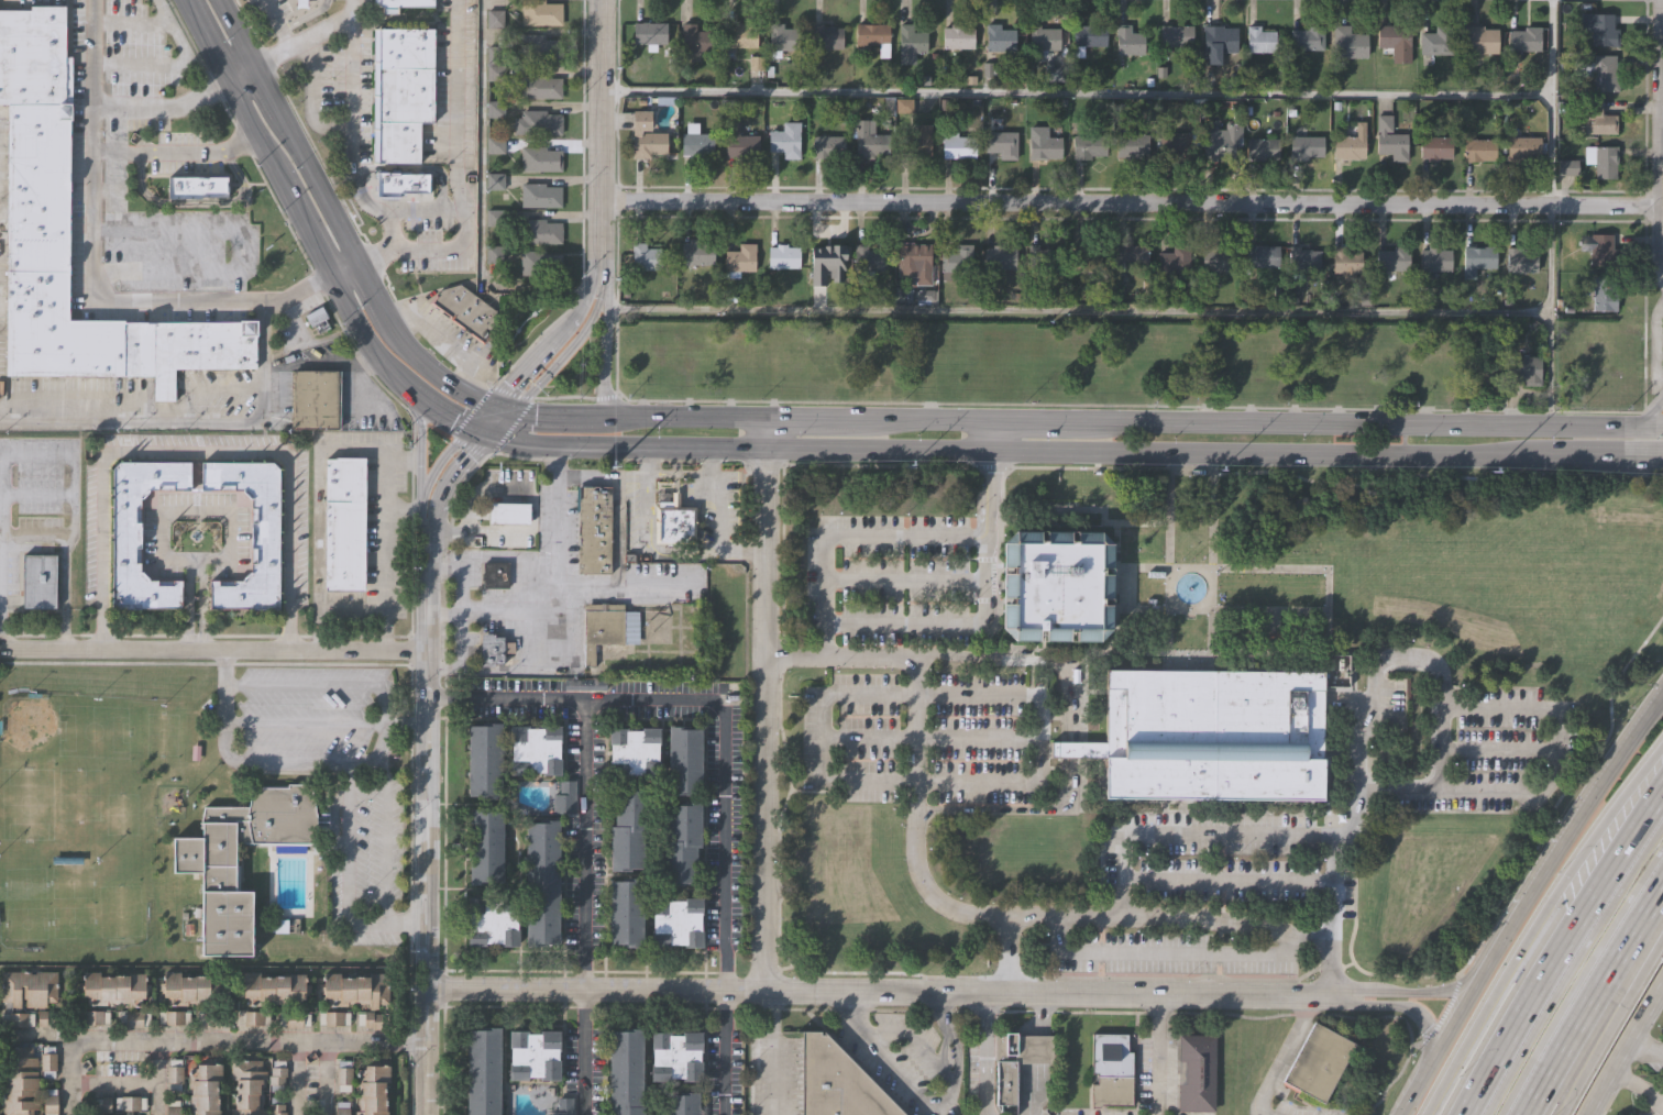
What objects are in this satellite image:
building: (400, 3)
road: (353, 4)
building: (540, 12)
building: (497, 20)
road: (276, 22)
building: (1600, 26)
building: (648, 33)
building: (1176, 34)
road: (305, 35)
building: (740, 35)
building: (873, 35)
building: (1394, 35)
building: (826, 36)
building: (957, 36)
building: (1088, 36)
building: (1310, 36)
building: (999, 37)
building: (781, 38)
building: (1259, 38)
building: (1524, 38)
building: (911, 40)
building: (1043, 40)
building: (1480, 40)
building: (695, 41)
building: (1128, 41)
building: (1218, 41)
building: (1352, 41)
building: (1438, 41)
building: (538, 46)
road: (241, 70)
building: (1606, 73)
building: (539, 85)
building: (400, 90)
road: (1076, 93)
road: (310, 100)
road: (162, 107)
building: (495, 110)
building: (1597, 117)
building: (536, 121)
road: (460, 126)
road: (601, 129)
building: (645, 134)
road: (354, 137)
building: (784, 137)
building: (737, 139)
building: (868, 140)
building: (1390, 140)
building: (916, 141)
building: (1219, 142)
building: (1002, 143)
building: (696, 144)
building: (1132, 144)
building: (1175, 144)
road: (1655, 144)
building: (827, 145)
building: (958, 145)
building: (1088, 145)
building: (1044, 147)
building: (1304, 147)
building: (1347, 147)
building: (1434, 147)
building: (1262, 148)
building: (1522, 148)
building: (1478, 150)
road: (175, 151)
building: (540, 157)
building: (1601, 159)
building: (1566, 168)
building: (401, 183)
building: (197, 186)
building: (540, 194)
road: (481, 198)
road: (1127, 202)
road: (331, 207)
road: (418, 210)
road: (1550, 212)
building: (37, 219)
building: (540, 230)
road: (306, 231)
road: (91, 240)
building: (1600, 249)
building: (694, 251)
road: (410, 252)
building: (781, 253)
building: (643, 255)
building: (1132, 255)
building: (1263, 255)
building: (738, 256)
building: (824, 256)
building: (1002, 256)
building: (1045, 257)
building: (1176, 257)
building: (1306, 257)
building: (869, 258)
building: (1218, 258)
building: (1392, 258)
building: (1433, 258)
building: (1477, 258)
building: (957, 260)
building: (1086, 260)
building: (915, 261)
building: (1345, 261)
building: (1521, 261)
building: (539, 262)
road: (345, 267)
road: (302, 288)
road: (1659, 288)
road: (590, 290)
building: (1604, 294)
building: (465, 310)
road: (1078, 311)
building: (318, 318)
road: (1654, 331)
road: (448, 341)
building: (1597, 341)
road: (575, 342)
road: (605, 349)
road: (531, 361)
building: (1526, 367)
building: (1599, 380)
traffic signals: (509, 386)
road: (480, 397)
building: (315, 399)
road: (502, 407)
road: (1648, 412)
road: (191, 415)
road: (689, 415)
traffic signals: (535, 416)
road: (811, 416)
road: (481, 417)
road: (563, 417)
road: (924, 418)
traffic signals: (453, 420)
road: (1045, 420)
road: (499, 423)
road: (1324, 423)
road: (1606, 428)
road: (762, 432)
road: (476, 434)
road: (419, 435)
road: (989, 435)
road: (521, 446)
road: (659, 450)
road: (197, 451)
road: (874, 451)
traffic signals: (469, 456)
road: (1270, 456)
road: (1608, 457)
road: (558, 461)
road: (643, 461)
road: (711, 461)
road: (601, 472)
road: (679, 472)
road: (428, 479)
road: (448, 484)
road: (483, 492)
road: (36, 497)
building: (509, 512)
road: (74, 518)
building: (344, 521)
building: (673, 521)
building: (595, 528)
road: (478, 529)
road: (719, 531)
building: (264, 536)
road: (864, 537)
road: (673, 551)
road: (195, 566)
road: (460, 571)
building: (495, 574)
building: (40, 579)
road: (906, 582)
road: (624, 584)
building: (1057, 587)
fountain: (1190, 587)
road: (558, 609)
road: (970, 623)
building: (654, 627)
building: (606, 628)
building: (493, 648)
road: (211, 649)
road: (455, 654)
road: (222, 667)
road: (1378, 670)
road: (1065, 680)
building: (585, 686)
road: (322, 687)
road: (508, 696)
road: (654, 700)
road: (760, 719)
road: (406, 722)
building: (1211, 735)
road: (915, 737)
parking lot: (917, 739)
road: (1443, 749)
road: (1498, 749)
building: (537, 751)
road: (822, 751)
building: (635, 753)
building: (486, 762)
building: (685, 762)
road: (286, 763)
building: (565, 799)
road: (423, 828)
building: (630, 830)
road: (1604, 837)
road: (1565, 840)
road: (384, 844)
building: (683, 844)
building: (487, 848)
building: (203, 860)
road: (1226, 881)
road: (344, 882)
building: (542, 885)
road: (1333, 886)
building: (627, 914)
road: (1039, 918)
building: (494, 923)
building: (678, 923)
road: (1561, 949)
road: (1163, 951)
road: (1007, 954)
road: (1641, 964)
road: (1571, 965)
road: (1576, 976)
building: (29, 987)
building: (114, 987)
building: (196, 989)
building: (275, 989)
building: (353, 990)
road: (890, 990)
road: (1416, 990)
road: (1590, 996)
road: (1416, 1008)
road: (1484, 1008)
road: (855, 1011)
road: (1039, 1013)
building: (93, 1017)
parking lot: (93, 1017)
building: (174, 1017)
parking lot: (174, 1017)
building: (252, 1017)
parking lot: (252, 1017)
building: (332, 1017)
parking lot: (332, 1017)
building: (133, 1018)
parking lot: (133, 1018)
building: (18, 1019)
parking lot: (18, 1019)
building: (212, 1019)
parking lot: (212, 1019)
building: (294, 1019)
parking lot: (294, 1019)
building: (371, 1019)
parking lot: (371, 1019)
road: (949, 1035)
road: (914, 1042)
road: (210, 1044)
road: (1034, 1048)
road: (1438, 1050)
road: (583, 1051)
road: (727, 1052)
road: (771, 1052)
road: (984, 1052)
road: (1649, 1052)
building: (532, 1053)
road: (1159, 1053)
road: (1288, 1053)
building: (674, 1057)
road: (1632, 1057)
building: (46, 1061)
parking lot: (46, 1061)
building: (1318, 1061)
road: (1589, 1061)
building: (1109, 1070)
building: (483, 1071)
building: (625, 1072)
building: (1192, 1072)
building: (173, 1073)
parking lot: (173, 1073)
building: (343, 1074)
parking lot: (343, 1074)
building: (276, 1075)
parking lot: (276, 1075)
building: (16, 1080)
road: (297, 1080)
road: (326, 1080)
road: (131, 1082)
building: (837, 1082)
building: (1005, 1083)
road: (906, 1084)
building: (247, 1086)
building: (202, 1088)
building: (372, 1089)
road: (1031, 1089)
road: (1647, 1090)
building: (48, 1102)
parking lot: (48, 1102)
building: (130, 1103)
parking lot: (130, 1103)
building: (682, 1104)
building: (172, 1107)
parking lot: (172, 1107)
building: (564, 1107)
building: (341, 1108)
parking lot: (341, 1108)
building: (276, 1110)
parking lot: (276, 1110)
road: (984, 1114)

